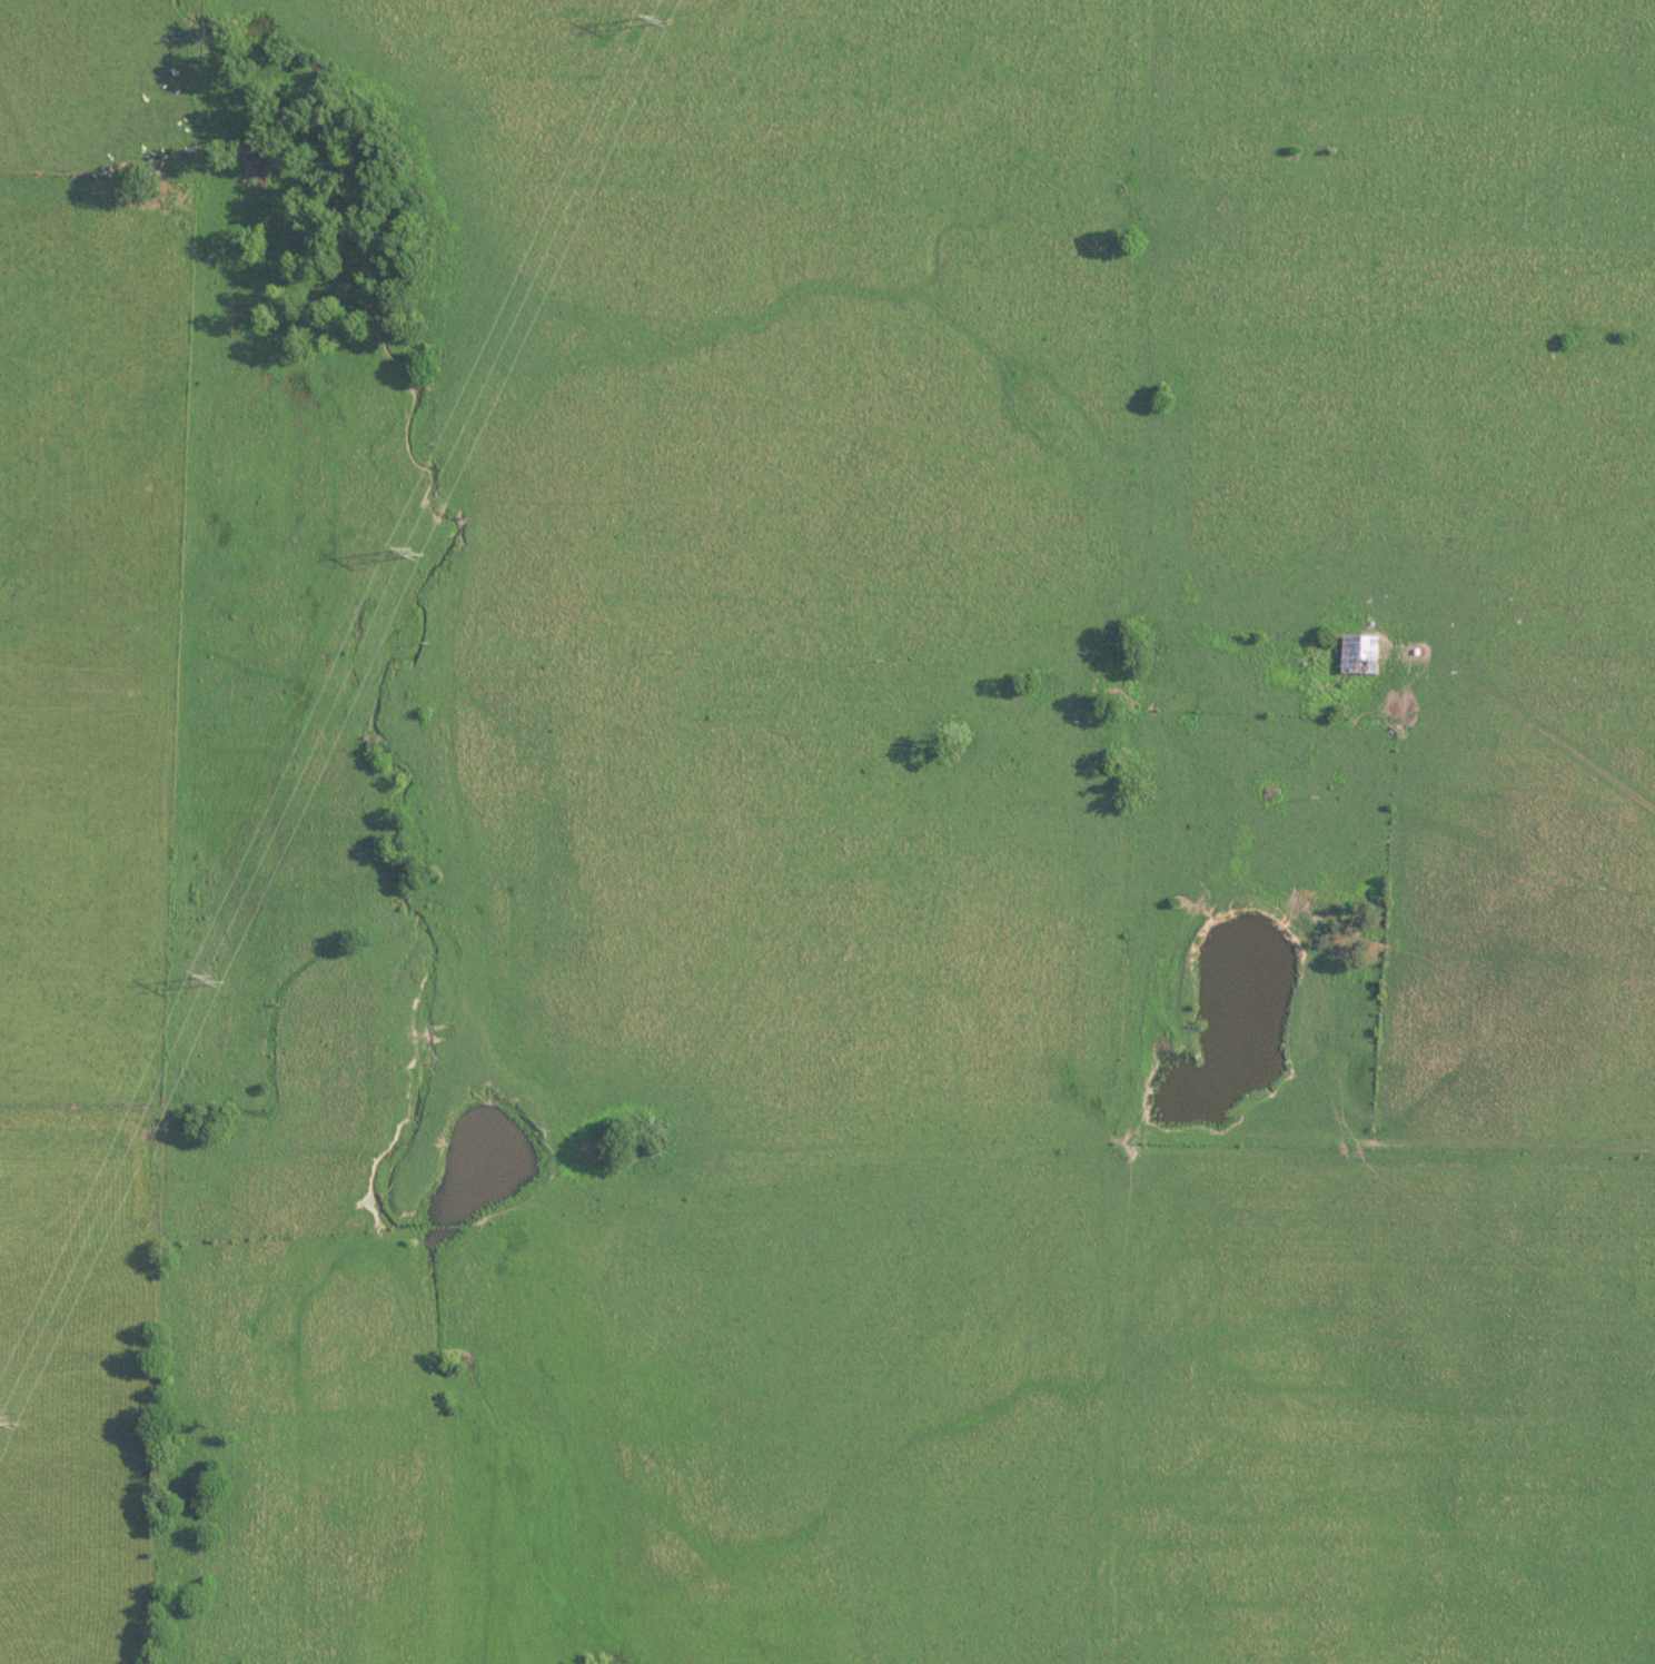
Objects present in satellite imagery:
power tower: (663, 18)
power tower: (417, 552)
building: (1361, 654)
road: (1517, 714)
power tower: (218, 979)
power tower: (13, 1420)

